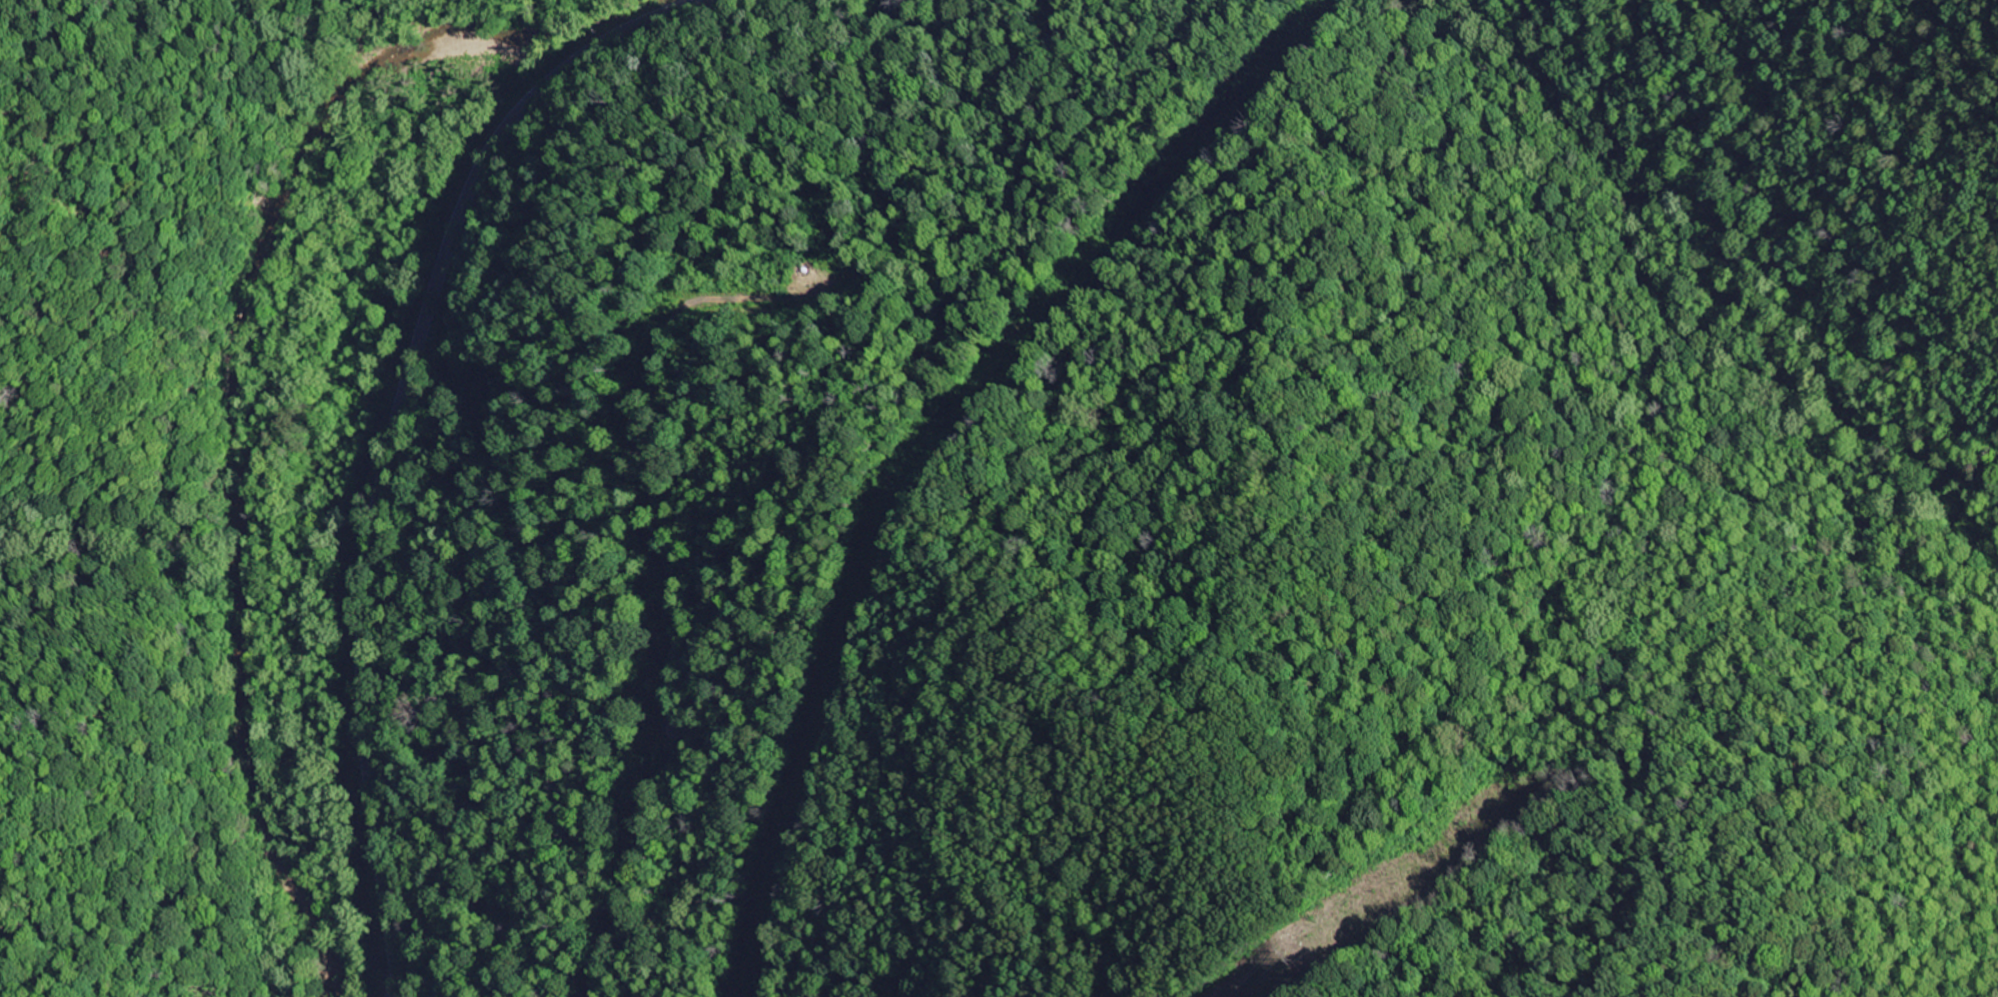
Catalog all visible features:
road: (396, 428)

